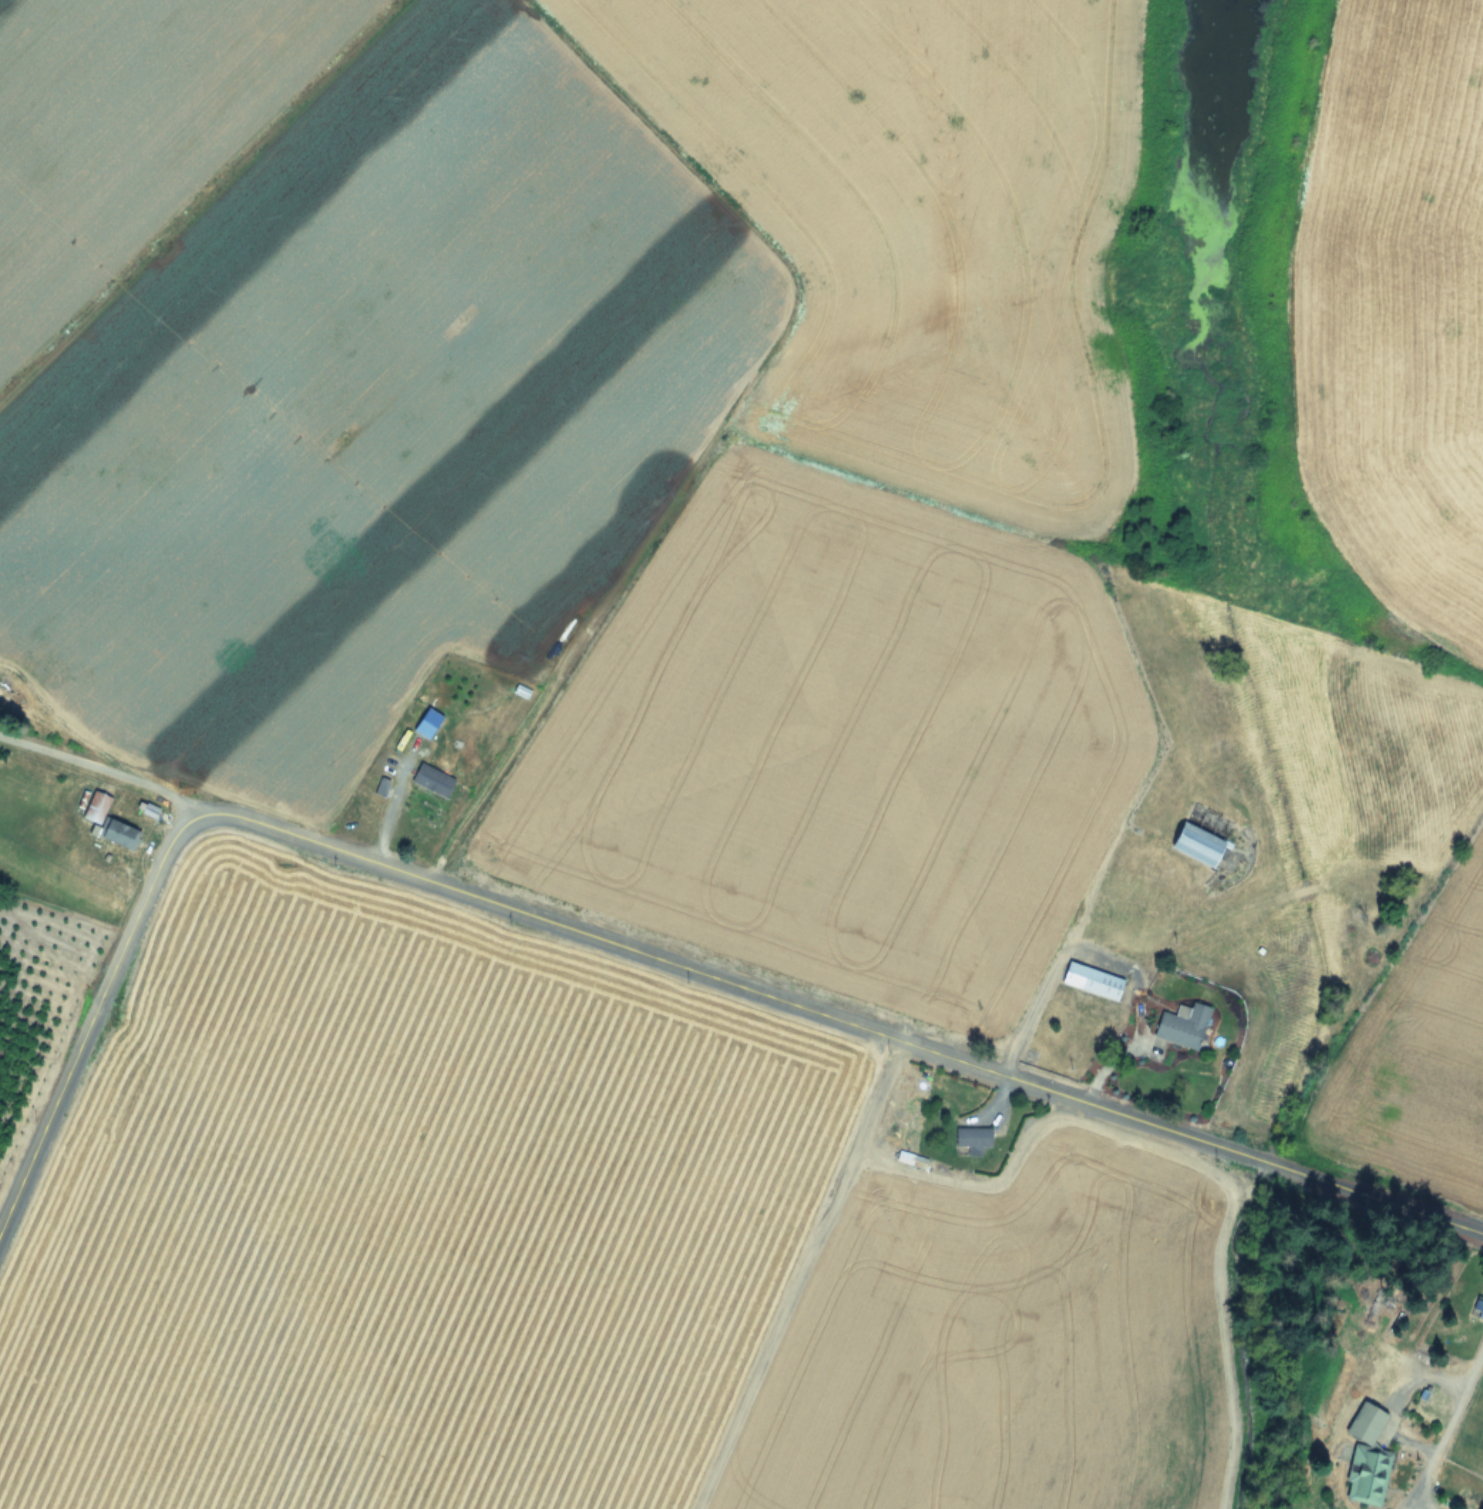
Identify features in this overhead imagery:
crop: (805, 494)
road: (100, 768)
building: (431, 780)
building: (380, 786)
building: (95, 807)
building: (118, 834)
building: (1194, 844)
road: (1101, 959)
building: (1091, 981)
road: (90, 1018)
road: (837, 1019)
building: (1181, 1026)
building: (970, 1141)
crop: (661, 1257)
building: (1477, 1307)
building: (1382, 1375)
road: (1445, 1414)
building: (1365, 1458)

